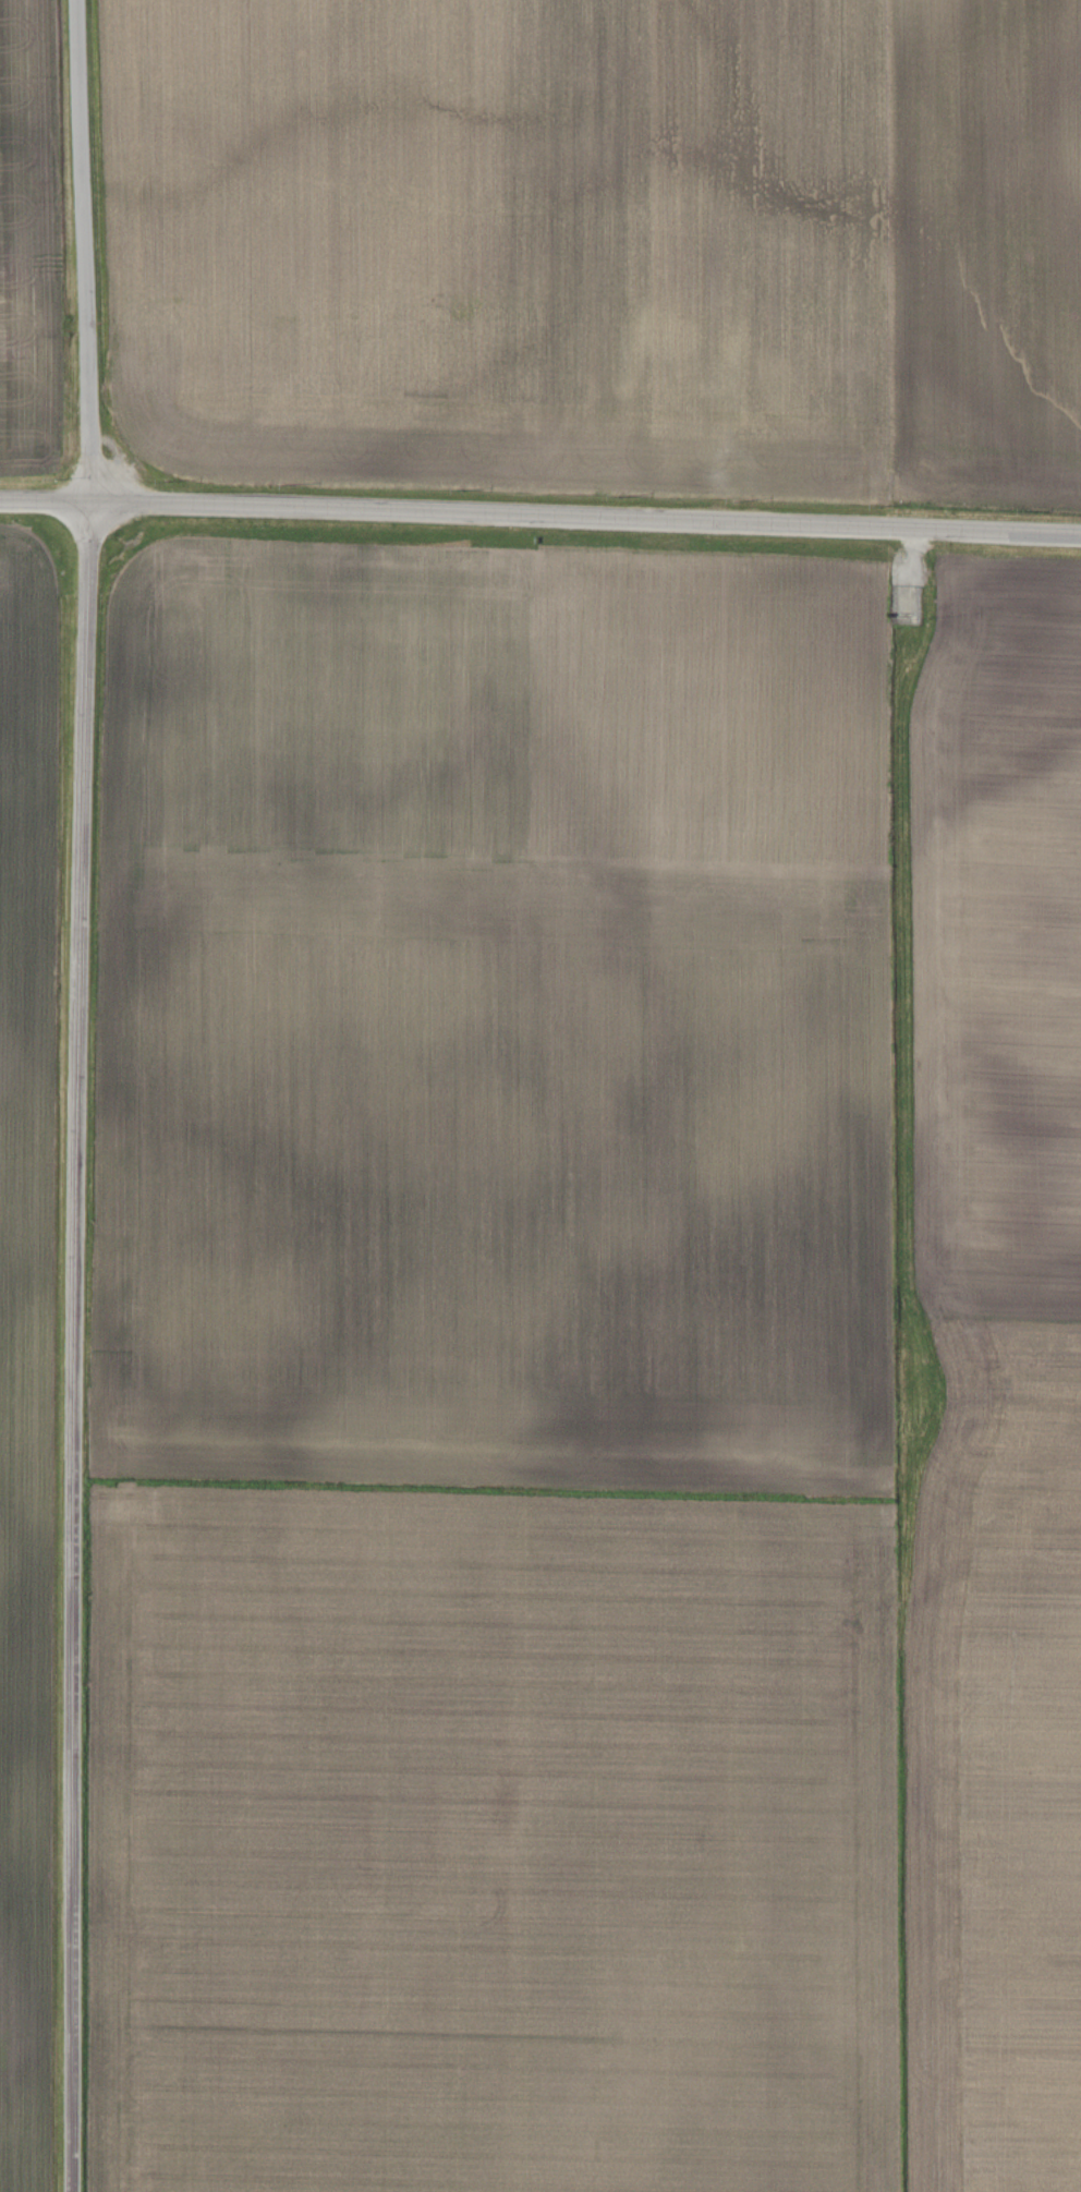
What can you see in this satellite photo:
road: (540, 516)
road: (78, 1095)

